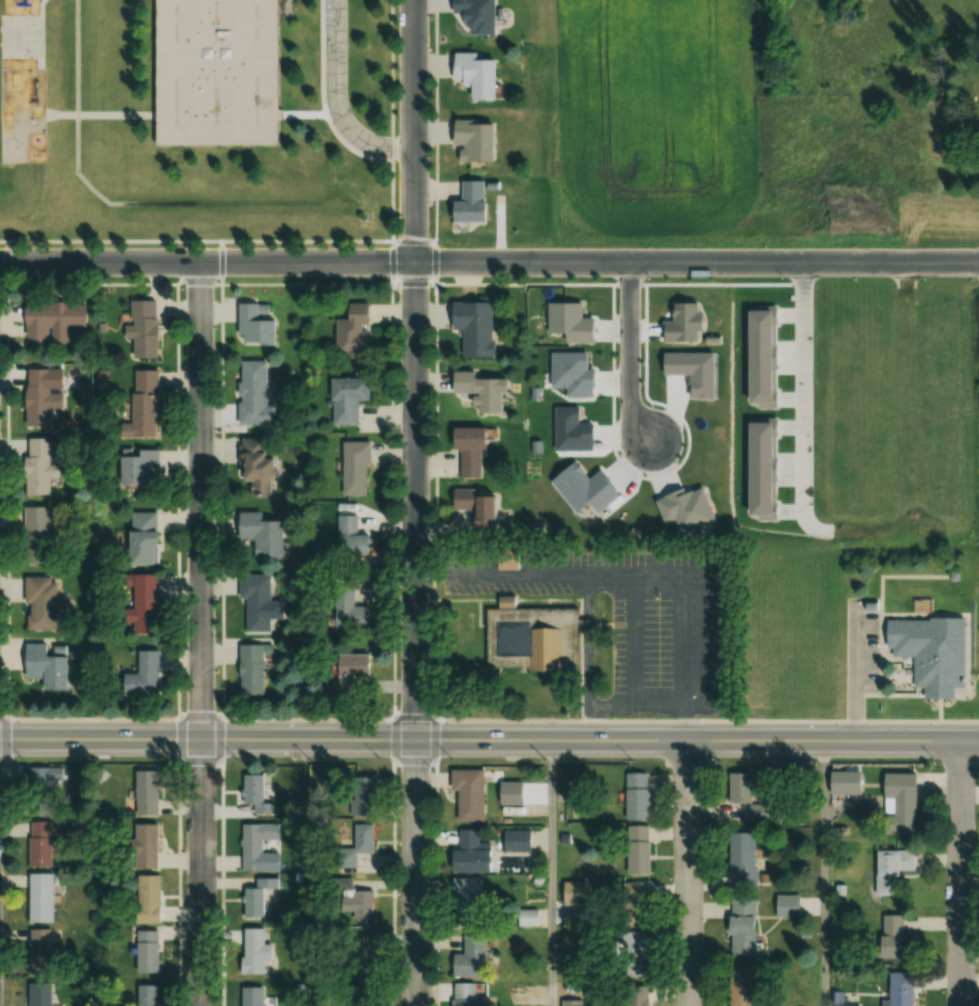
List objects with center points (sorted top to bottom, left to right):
building: (474, 15)
park: (24, 36)
road: (391, 68)
building: (212, 72)
building: (472, 75)
road: (336, 101)
building: (926, 107)
building: (874, 124)
building: (470, 140)
road: (393, 200)
building: (467, 202)
road: (197, 241)
road: (393, 244)
road: (264, 261)
road: (753, 263)
building: (51, 322)
building: (253, 323)
building: (141, 328)
building: (470, 328)
building: (350, 331)
road: (633, 349)
building: (477, 391)
building: (253, 394)
building: (39, 397)
road: (802, 397)
building: (345, 399)
building: (142, 405)
building: (466, 450)
building: (39, 465)
building: (254, 465)
building: (138, 467)
building: (353, 468)
road: (392, 497)
road: (416, 502)
building: (471, 507)
building: (346, 534)
building: (36, 535)
building: (259, 535)
building: (141, 539)
park: (659, 568)
road: (633, 578)
building: (255, 602)
building: (40, 603)
building: (144, 604)
building: (347, 610)
road: (203, 633)
building: (528, 638)
building: (929, 651)
building: (42, 667)
building: (250, 669)
building: (349, 670)
road: (845, 671)
building: (141, 676)
road: (102, 718)
road: (299, 719)
road: (707, 720)
road: (437, 728)
road: (101, 739)
road: (591, 740)
street lamp: (936, 758)
building: (46, 781)
building: (838, 781)
building: (737, 787)
building: (145, 792)
building: (253, 793)
building: (465, 793)
building: (361, 795)
building: (635, 796)
building: (896, 802)
building: (514, 840)
building: (38, 843)
building: (254, 843)
building: (143, 845)
building: (354, 846)
building: (637, 849)
building: (469, 853)
building: (741, 856)
building: (889, 868)
road: (552, 873)
road: (689, 873)
road: (824, 873)
road: (961, 873)
building: (38, 897)
building: (255, 897)
building: (145, 898)
building: (352, 899)
building: (635, 899)
building: (465, 902)
building: (786, 905)
building: (526, 917)
building: (740, 925)
building: (893, 937)
building: (38, 949)
building: (144, 951)
building: (252, 951)
building: (361, 954)
building: (634, 954)
building: (468, 956)
building: (740, 985)
building: (898, 989)
building: (40, 994)
building: (468, 994)
building: (144, 995)
building: (635, 995)
building: (250, 996)
building: (570, 1003)

